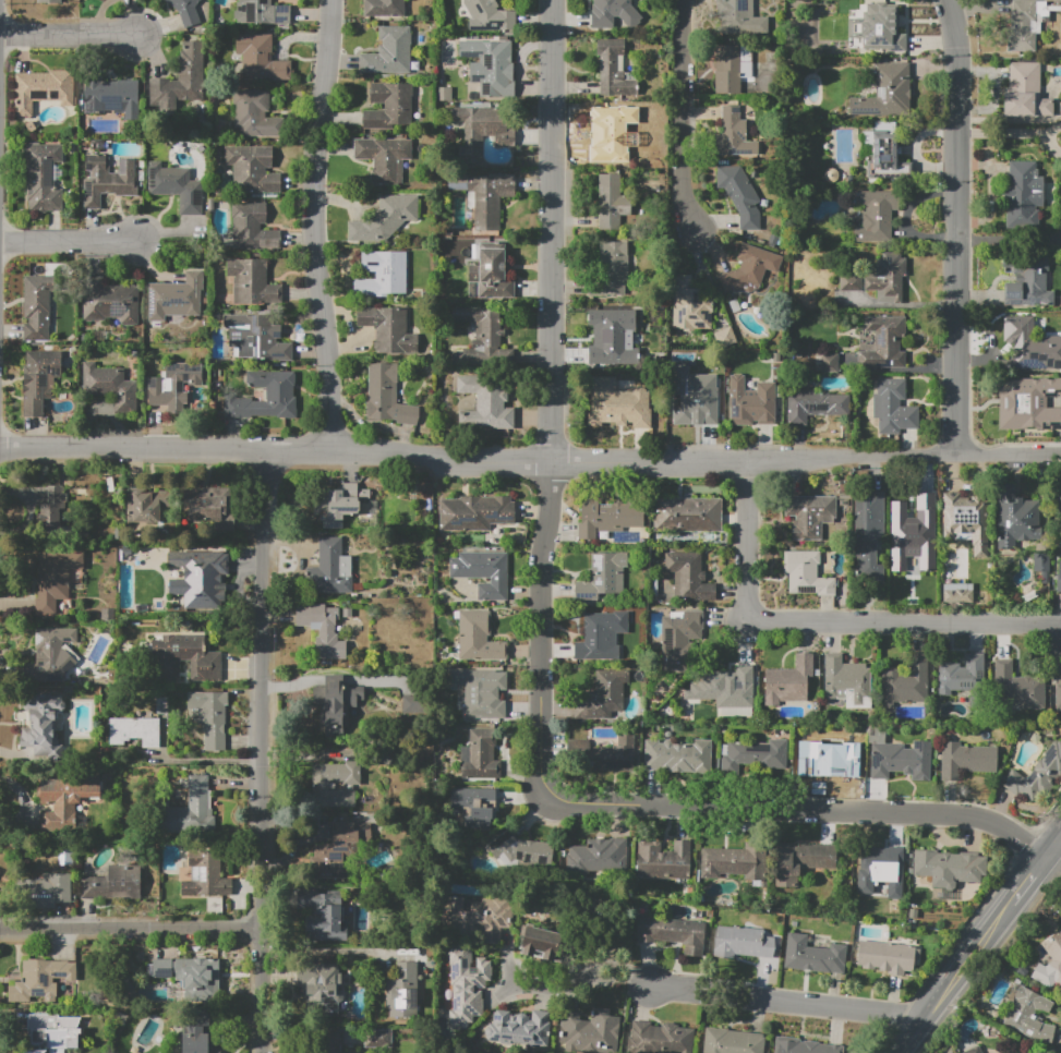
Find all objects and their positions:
building: (48, 1)
building: (384, 8)
building: (185, 11)
building: (261, 12)
building: (613, 13)
building: (487, 16)
building: (740, 16)
building: (1026, 23)
building: (879, 29)
road: (70, 36)
building: (388, 52)
building: (261, 58)
building: (733, 68)
building: (483, 69)
building: (613, 69)
building: (181, 78)
building: (43, 89)
building: (885, 92)
building: (1025, 92)
building: (444, 94)
building: (111, 97)
building: (389, 107)
building: (255, 114)
road: (683, 114)
building: (482, 130)
road: (1015, 132)
building: (608, 134)
building: (733, 134)
building: (1060, 136)
building: (885, 157)
building: (384, 158)
building: (252, 168)
building: (43, 178)
building: (107, 180)
building: (176, 186)
building: (739, 195)
building: (1023, 195)
building: (485, 196)
building: (612, 202)
building: (873, 215)
building: (384, 219)
road: (961, 226)
building: (252, 227)
road: (315, 227)
road: (552, 231)
road: (71, 238)
road: (1011, 240)
building: (750, 266)
building: (487, 267)
building: (612, 268)
building: (382, 274)
building: (887, 278)
building: (249, 280)
building: (1028, 280)
building: (851, 281)
building: (473, 290)
building: (176, 296)
building: (109, 301)
building: (690, 304)
building: (38, 306)
building: (388, 328)
building: (606, 334)
building: (256, 337)
building: (483, 339)
building: (883, 342)
building: (1030, 346)
building: (824, 362)
building: (39, 379)
building: (170, 385)
building: (110, 386)
building: (266, 396)
building: (387, 396)
building: (485, 402)
building: (1028, 403)
building: (617, 404)
building: (753, 404)
building: (815, 406)
building: (696, 407)
building: (893, 407)
road: (530, 462)
building: (1059, 494)
building: (145, 504)
building: (335, 504)
building: (208, 506)
building: (51, 509)
building: (474, 512)
building: (909, 512)
building: (687, 515)
building: (809, 516)
building: (1014, 517)
building: (610, 518)
building: (966, 521)
building: (868, 535)
building: (904, 552)
building: (928, 556)
building: (1041, 565)
building: (330, 569)
building: (483, 572)
building: (805, 573)
building: (603, 576)
building: (688, 576)
building: (1059, 577)
building: (55, 578)
building: (198, 578)
building: (931, 579)
building: (957, 592)
road: (540, 619)
road: (824, 622)
building: (322, 629)
building: (478, 637)
building: (599, 637)
building: (679, 638)
building: (49, 654)
building: (184, 657)
building: (961, 674)
building: (788, 681)
building: (847, 681)
building: (906, 683)
building: (1017, 687)
building: (730, 689)
building: (481, 692)
building: (602, 695)
building: (1058, 695)
building: (410, 703)
building: (161, 704)
building: (336, 705)
building: (735, 711)
building: (210, 716)
building: (41, 726)
building: (133, 730)
road: (266, 752)
building: (603, 754)
building: (753, 754)
building: (480, 755)
building: (677, 757)
road: (212, 759)
building: (825, 760)
building: (901, 760)
building: (965, 760)
building: (1038, 776)
building: (319, 787)
building: (65, 797)
building: (474, 804)
road: (794, 809)
building: (190, 810)
road: (1059, 844)
building: (340, 848)
road: (1053, 848)
building: (519, 849)
building: (599, 855)
building: (663, 860)
building: (801, 860)
building: (733, 861)
building: (950, 866)
building: (882, 868)
building: (205, 875)
building: (112, 883)
road: (1025, 886)
building: (45, 891)
building: (322, 916)
building: (478, 917)
road: (132, 929)
building: (672, 932)
building: (540, 942)
building: (742, 942)
road: (328, 951)
building: (813, 955)
building: (888, 955)
building: (1051, 960)
road: (613, 965)
road: (965, 965)
building: (160, 967)
building: (200, 978)
road: (612, 979)
building: (40, 980)
road: (644, 981)
building: (466, 985)
building: (319, 988)
road: (551, 989)
building: (402, 991)
road: (789, 1001)
building: (1028, 1015)
building: (523, 1024)
building: (589, 1031)
building: (51, 1032)
road: (914, 1033)
building: (198, 1036)
building: (661, 1038)
building: (378, 1039)
building: (329, 1041)
building: (732, 1041)
building: (803, 1046)
building: (974, 1050)
road: (1056, 1050)

